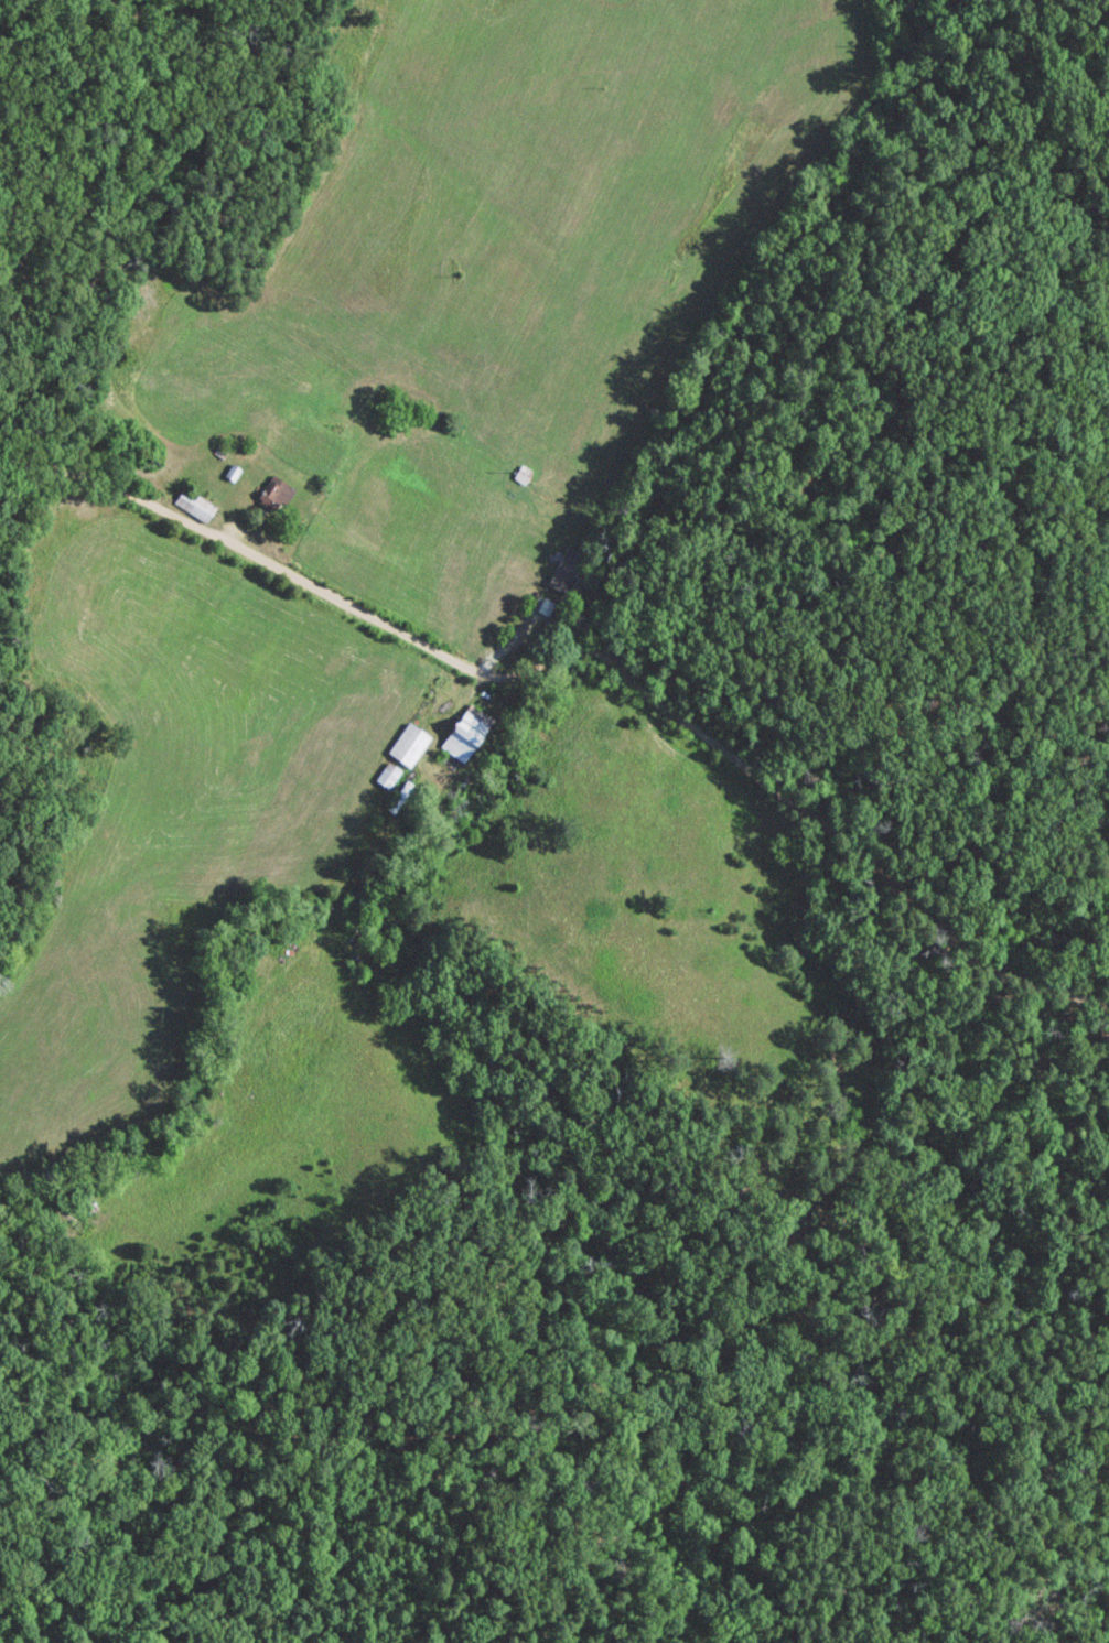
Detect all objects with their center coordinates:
building: (286, 490)
road: (115, 491)
road: (690, 717)
building: (471, 731)
building: (413, 744)

